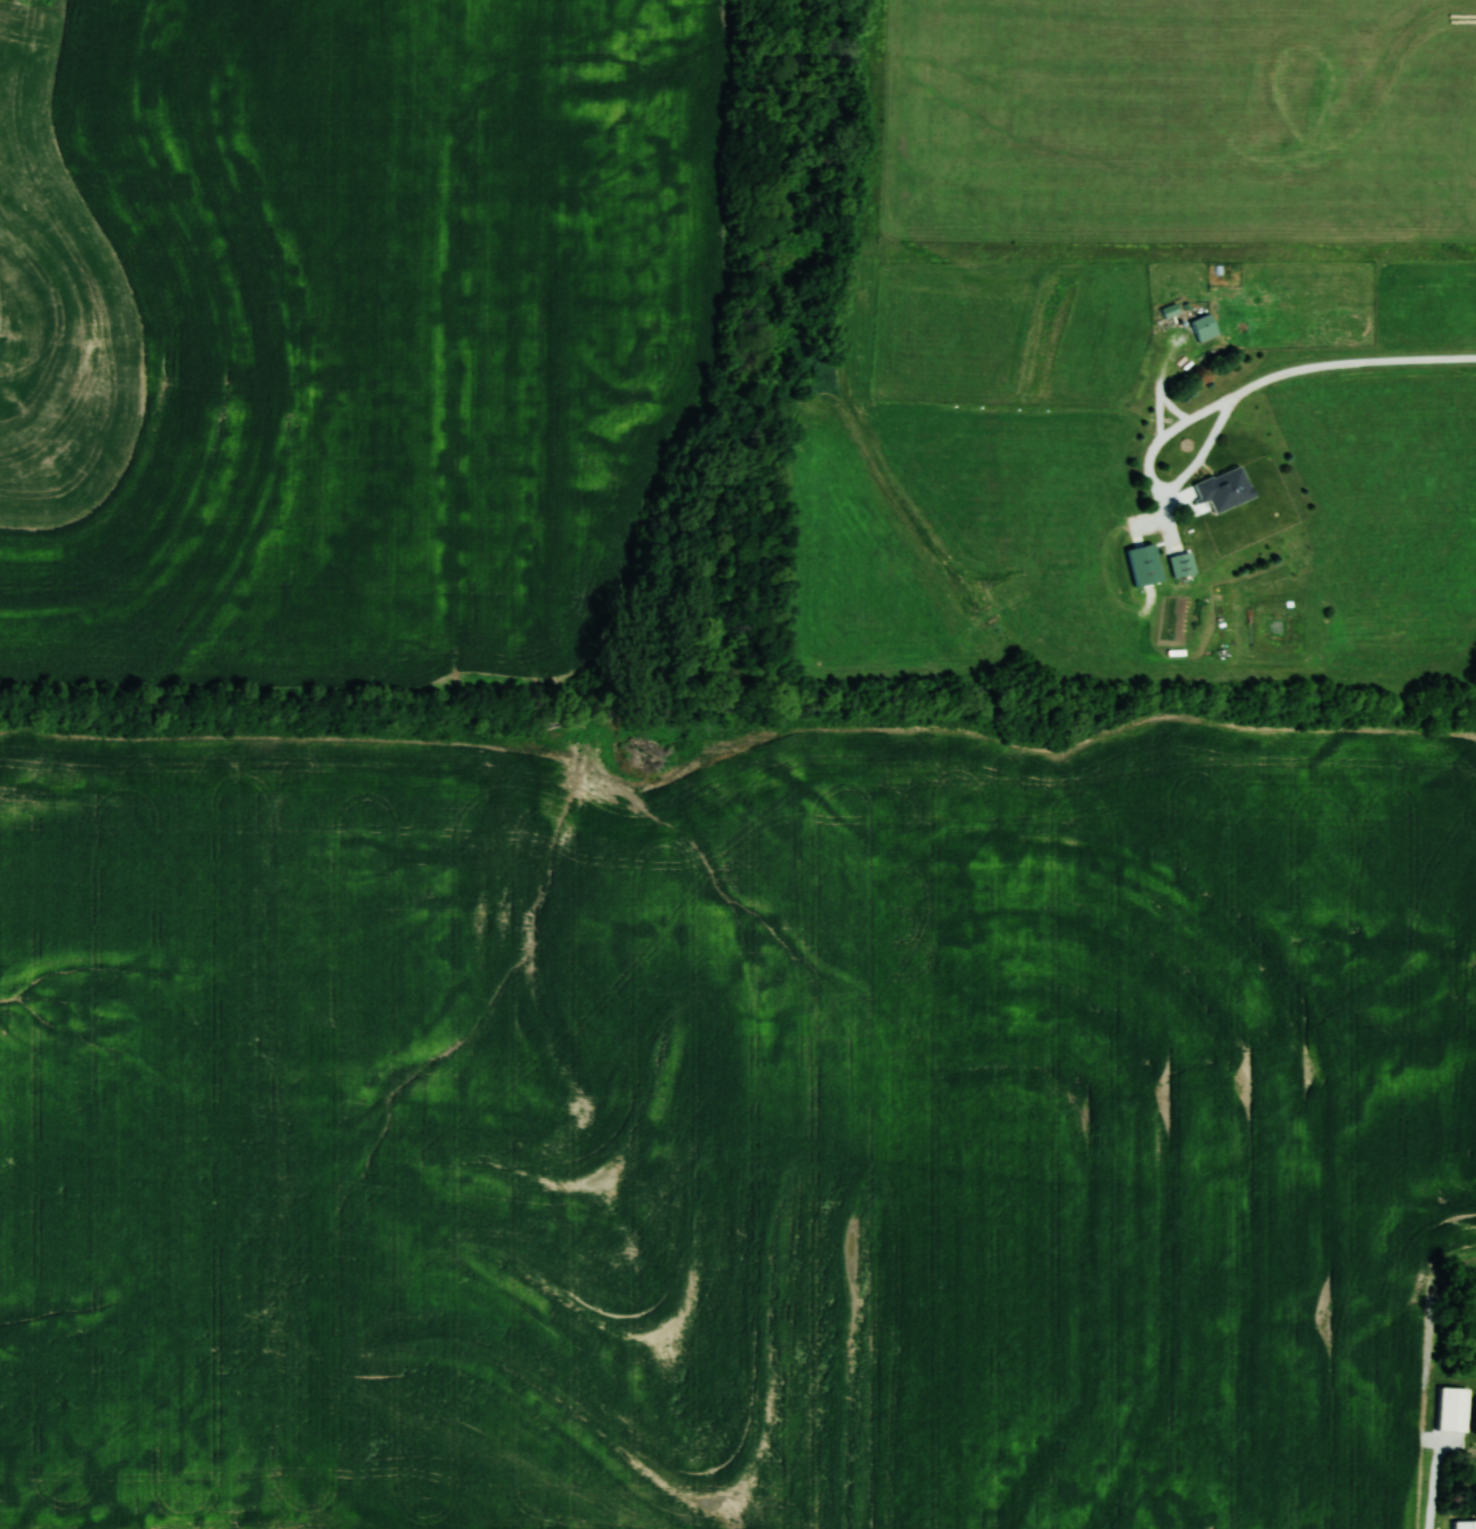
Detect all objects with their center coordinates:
building: (1204, 328)
road: (1351, 363)
road: (1155, 481)
building: (1224, 489)
building: (1174, 539)
building: (1182, 564)
building: (1453, 1409)
building: (1465, 1524)

